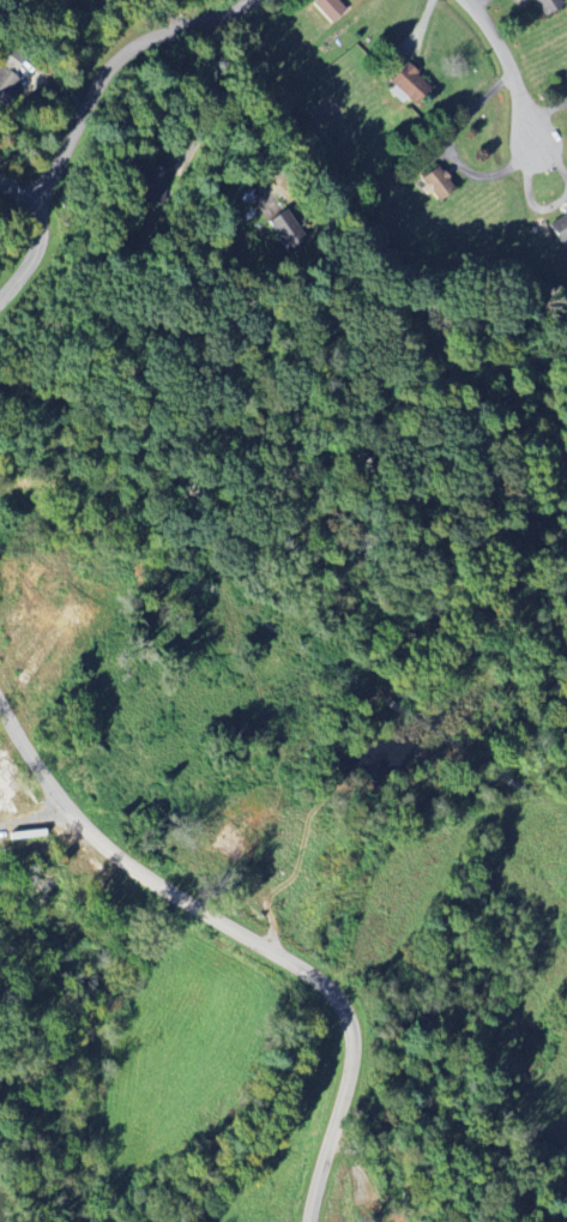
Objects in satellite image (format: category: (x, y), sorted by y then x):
building: (543, 6)
road: (107, 65)
road: (500, 71)
building: (6, 84)
building: (404, 85)
road: (233, 106)
building: (433, 185)
building: (557, 228)
road: (42, 230)
road: (248, 938)

